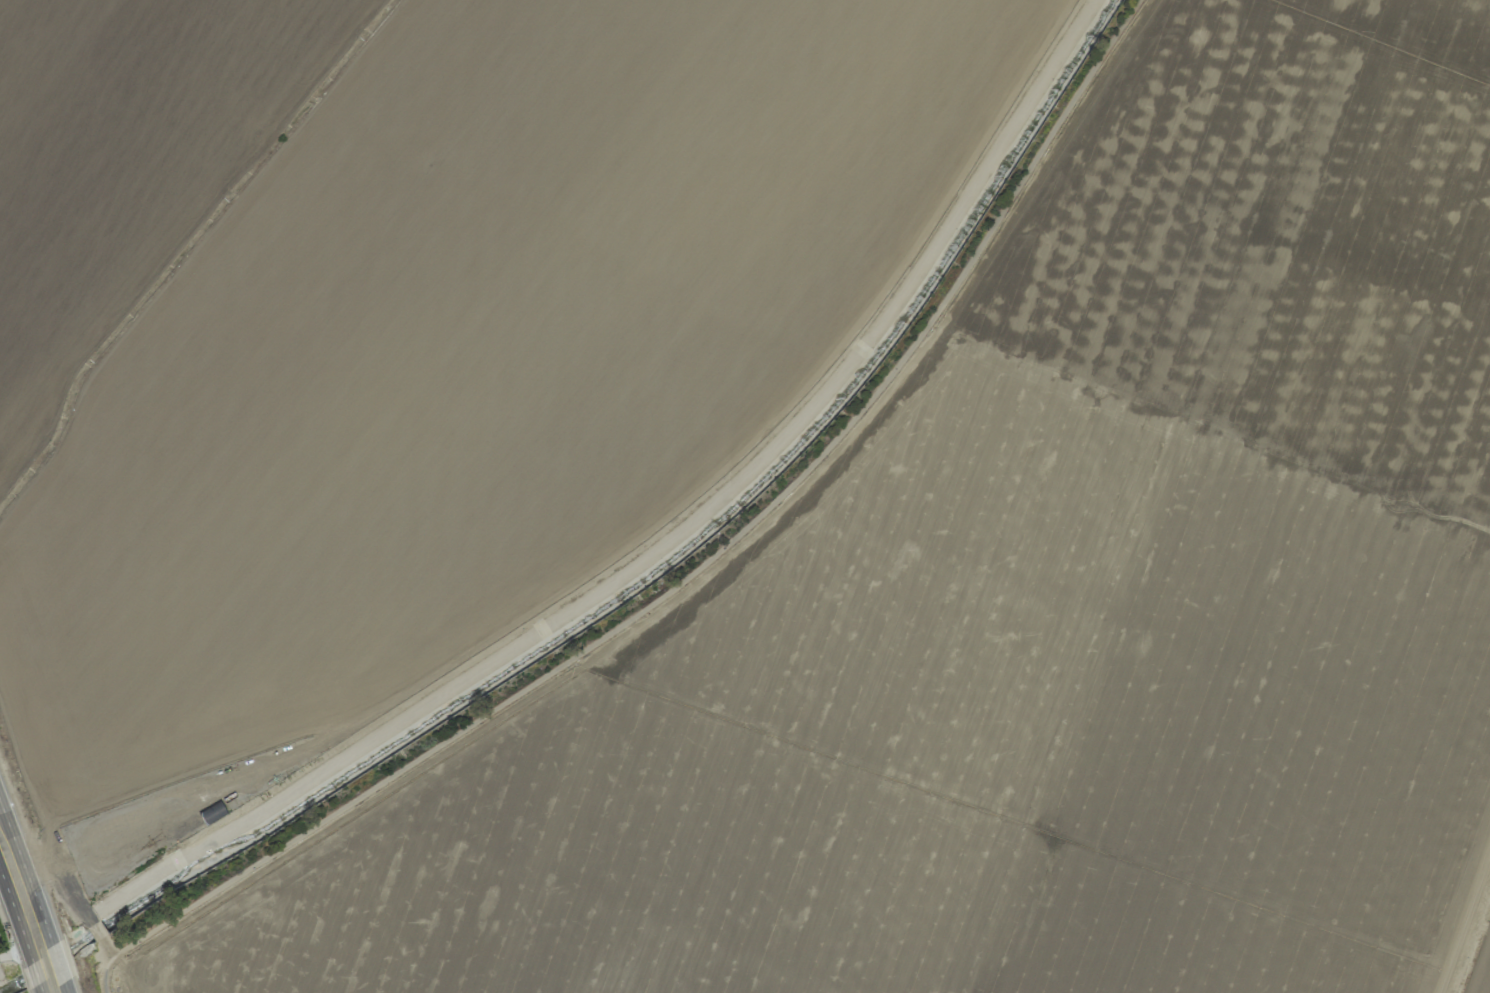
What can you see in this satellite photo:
road: (1377, 46)
road: (1268, 235)
road: (905, 371)
road: (1207, 429)
crop: (755, 490)
road: (706, 561)
road: (1140, 633)
road: (29, 765)
building: (212, 812)
road: (352, 817)
road: (1013, 822)
road: (30, 860)
road: (15, 879)
road: (72, 890)
road: (609, 902)
road: (1465, 926)
road: (44, 930)
road: (99, 933)
road: (26, 941)
road: (119, 959)
road: (58, 962)
road: (116, 965)
road: (103, 973)
road: (36, 975)
road: (66, 986)
road: (42, 992)

